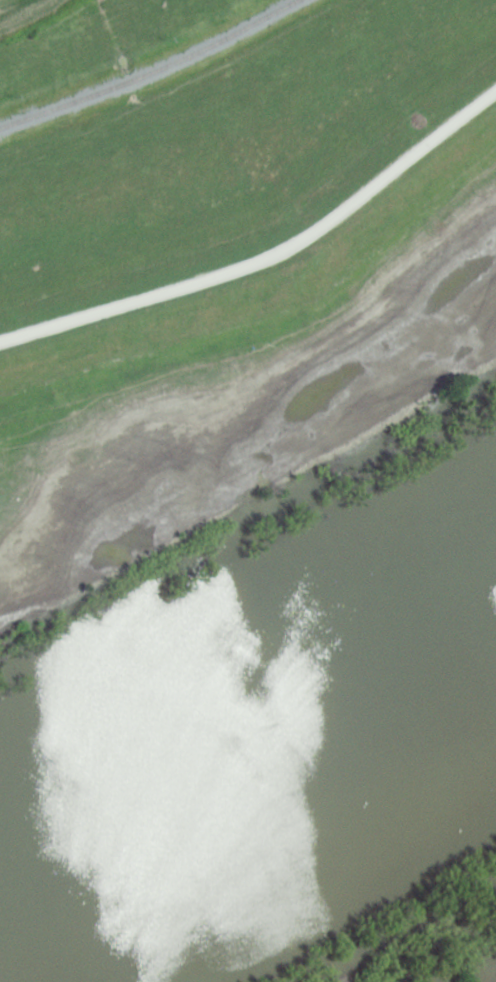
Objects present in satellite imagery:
railway: (152, 71)
road: (275, 249)

